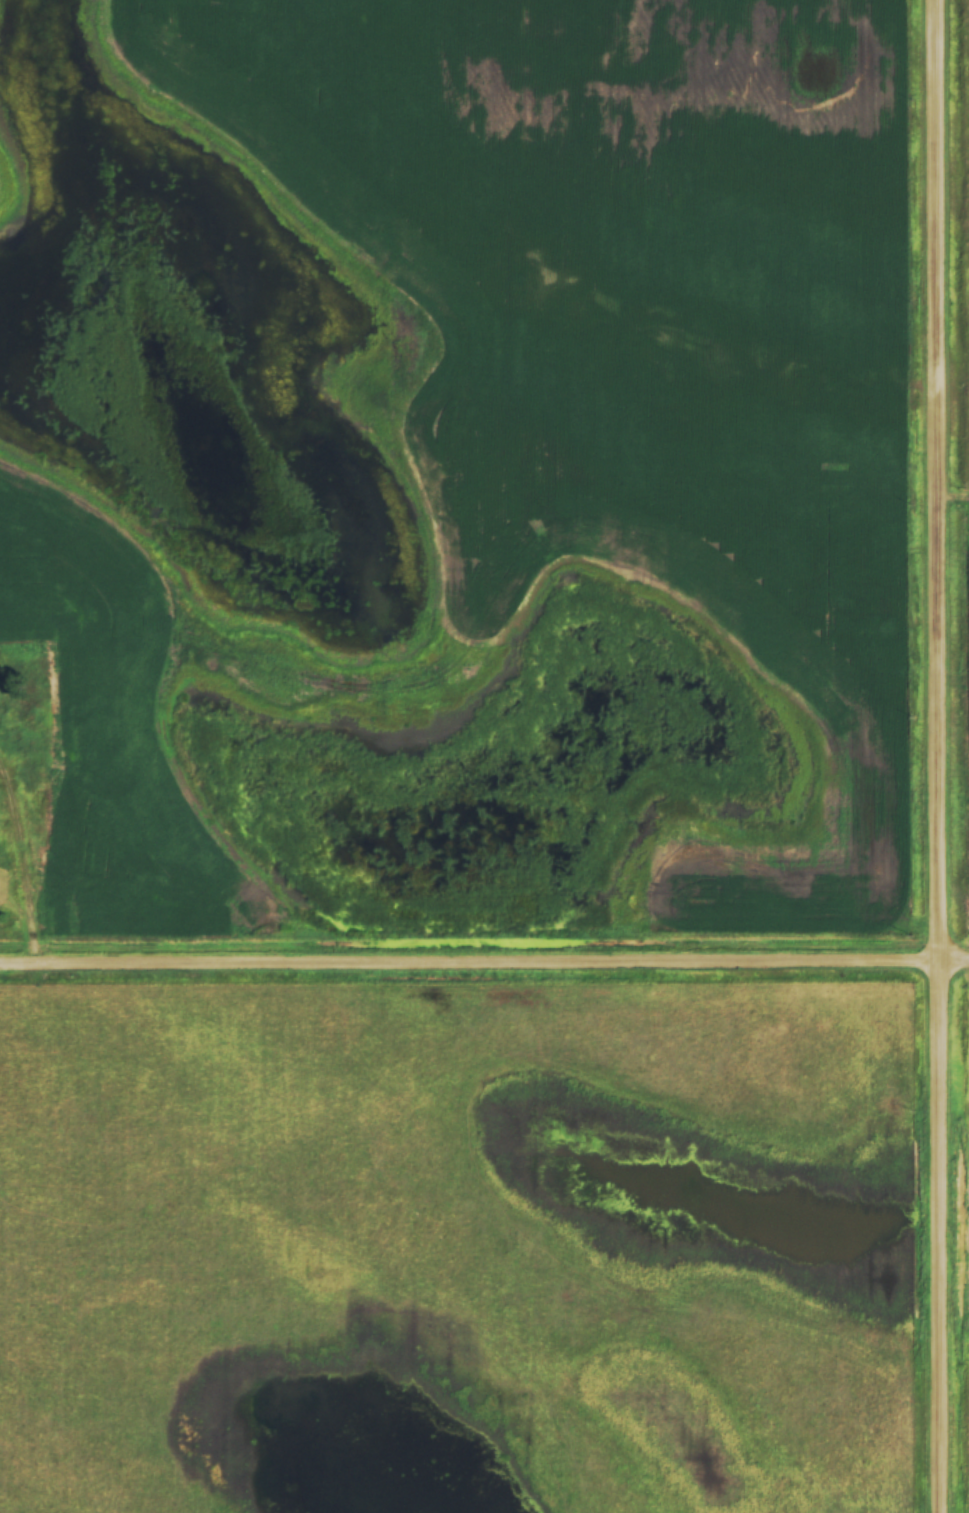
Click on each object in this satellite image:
road: (936, 756)
road: (484, 965)

